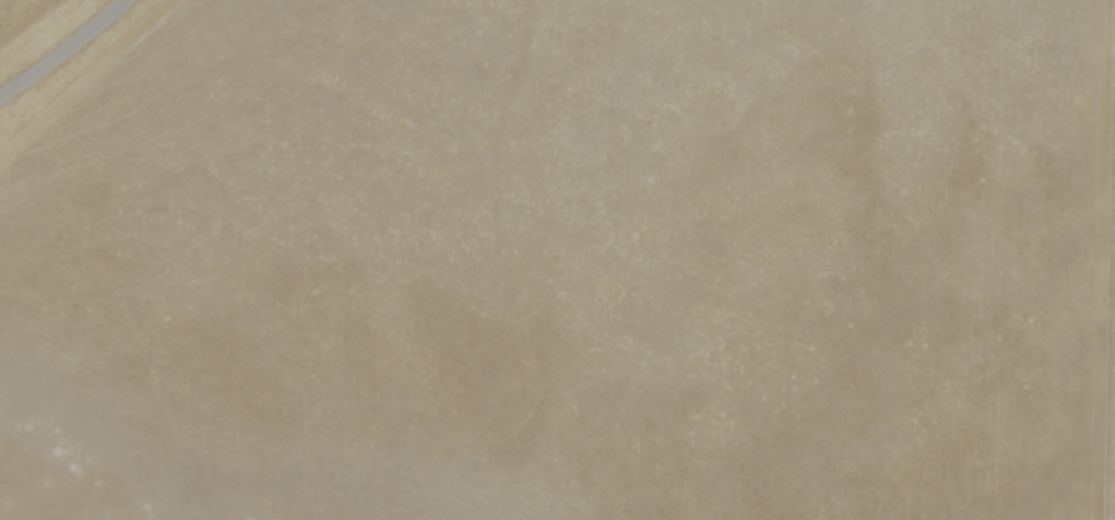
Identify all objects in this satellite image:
road: (64, 55)

